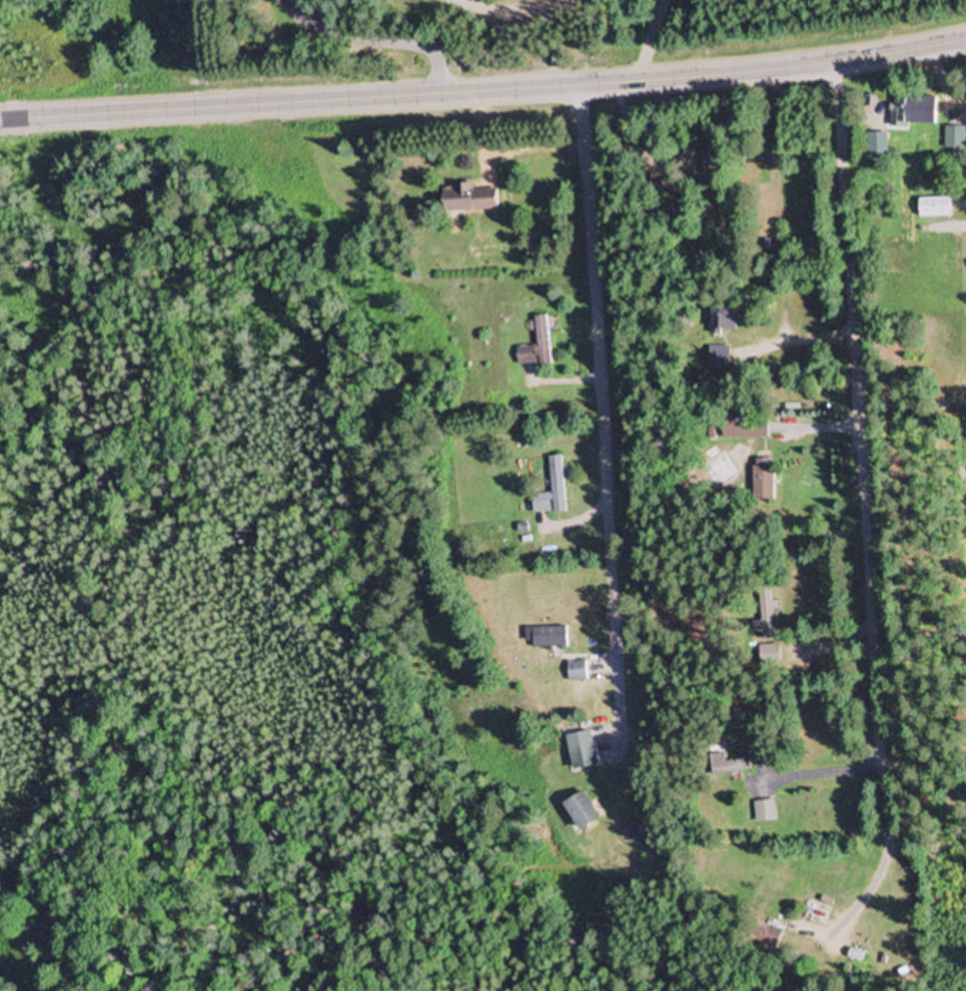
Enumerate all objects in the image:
road: (484, 90)
building: (911, 112)
building: (467, 200)
building: (933, 209)
building: (722, 320)
building: (536, 344)
building: (718, 358)
road: (599, 412)
building: (744, 426)
road: (863, 452)
building: (762, 478)
building: (552, 491)
building: (764, 609)
building: (766, 630)
building: (549, 637)
building: (769, 655)
building: (577, 671)
building: (582, 750)
building: (719, 764)
building: (581, 811)
building: (764, 934)

